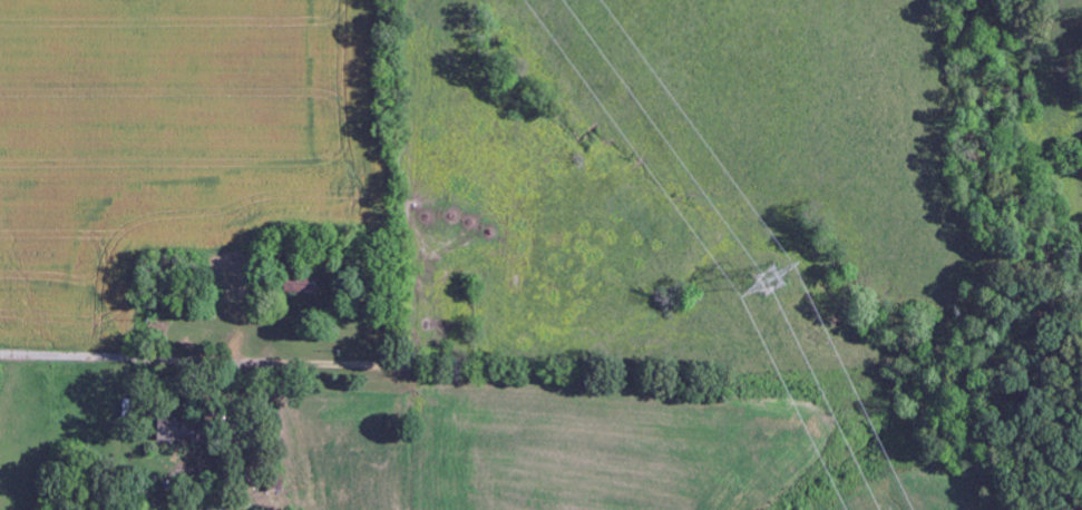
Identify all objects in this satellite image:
power tower: (768, 271)
road: (139, 360)
road: (333, 364)
building: (182, 431)

